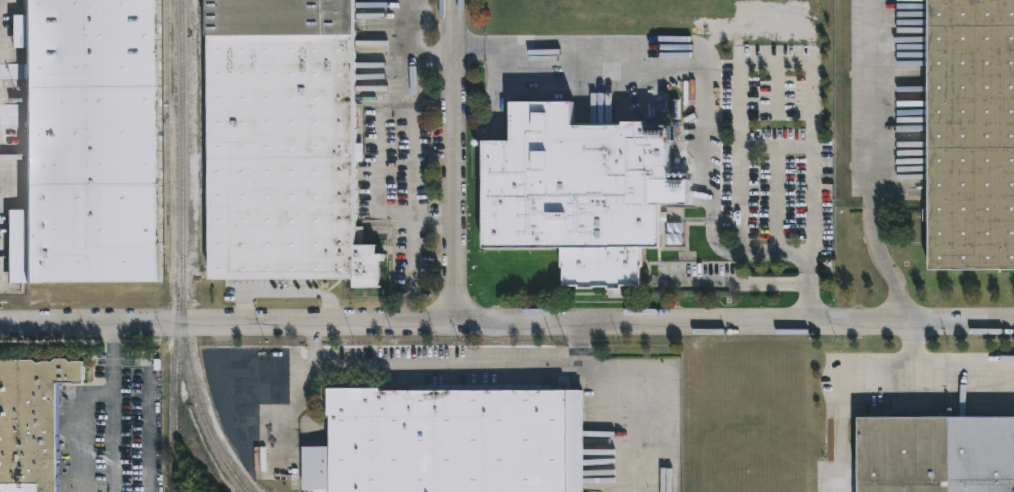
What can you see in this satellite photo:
road: (469, 44)
road: (870, 106)
railway: (199, 128)
building: (970, 132)
railway: (165, 134)
building: (81, 140)
building: (285, 143)
road: (451, 161)
road: (409, 184)
building: (575, 191)
road: (738, 198)
road: (761, 252)
railway: (181, 254)
road: (889, 271)
road: (740, 283)
road: (810, 298)
road: (228, 325)
road: (735, 326)
road: (949, 360)
road: (425, 367)
railway: (171, 373)
road: (660, 386)
road: (228, 392)
road: (88, 400)
building: (29, 417)
building: (447, 440)
building: (935, 453)

